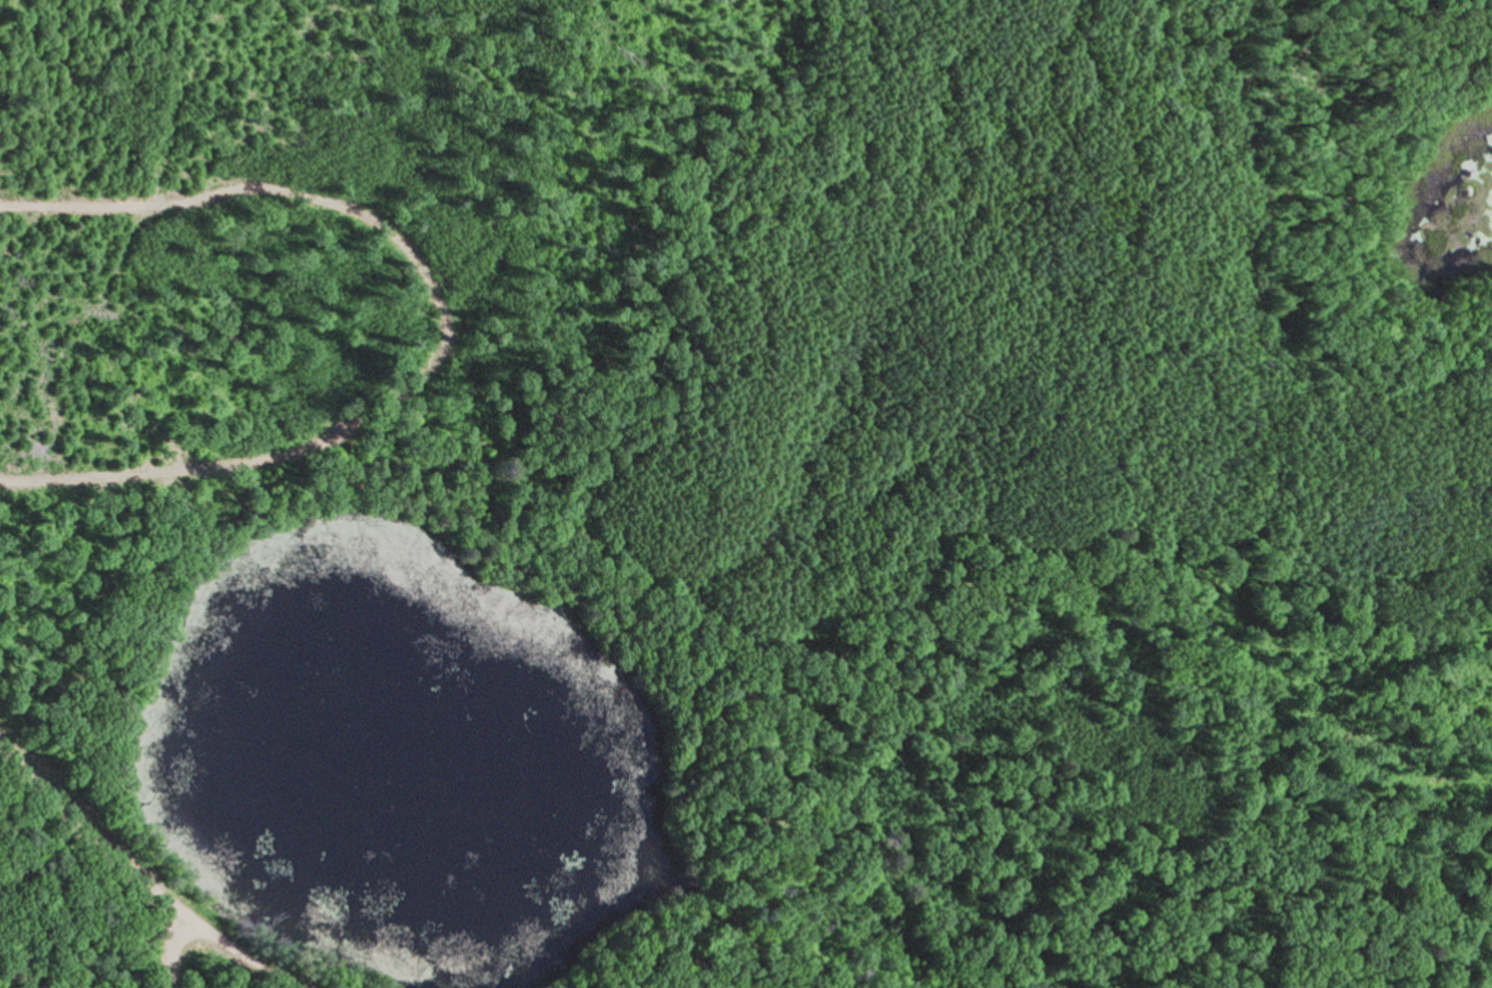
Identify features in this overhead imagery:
road: (431, 320)
road: (136, 872)
road: (175, 948)

